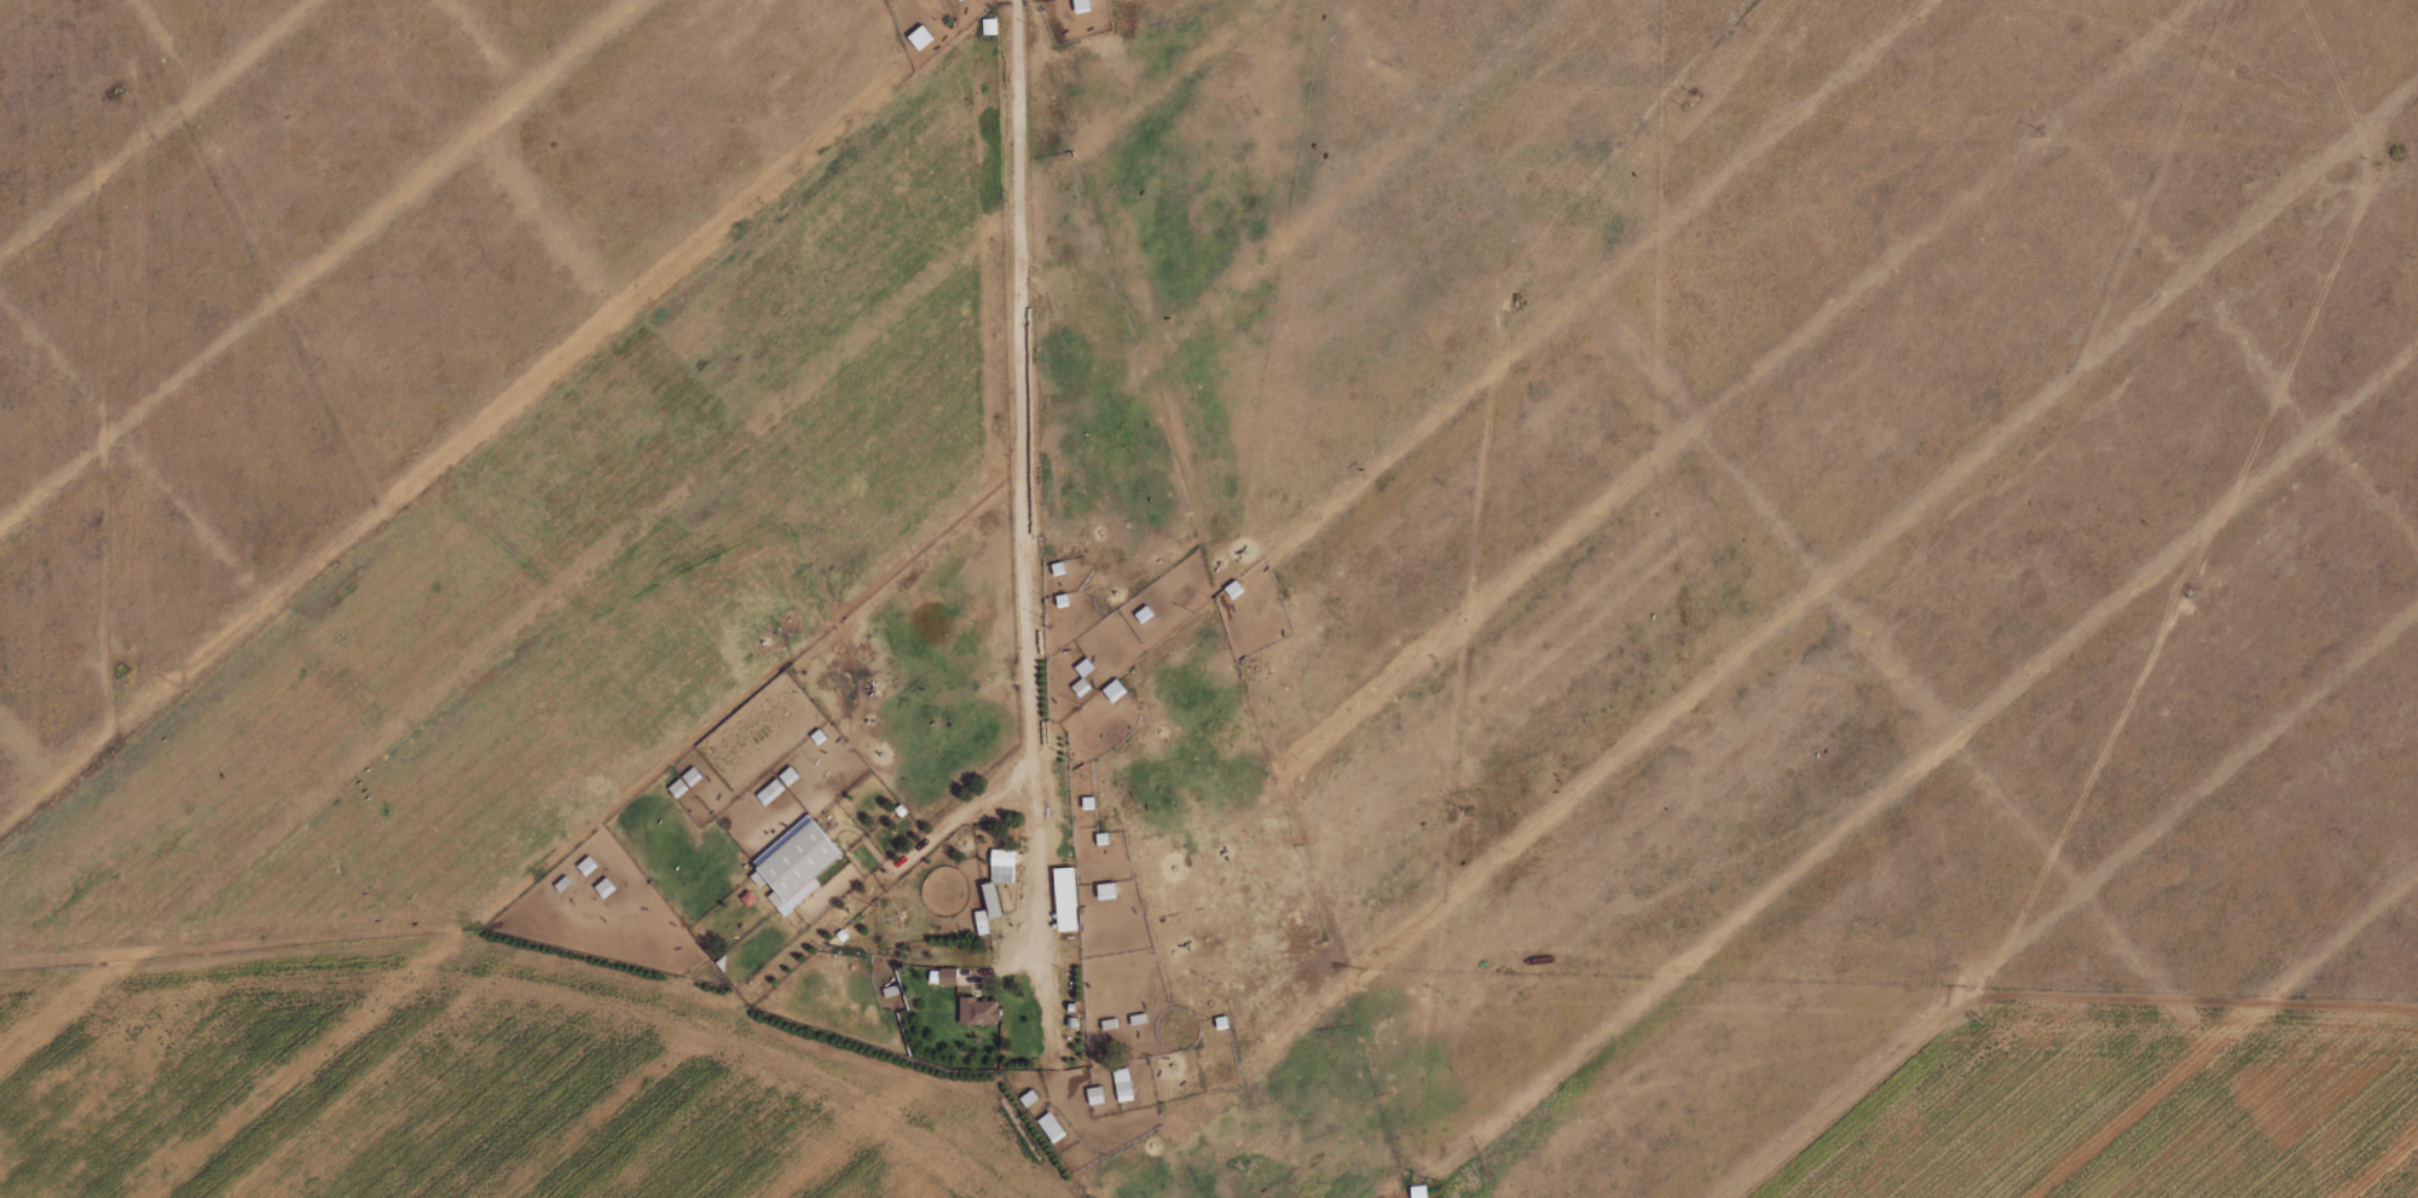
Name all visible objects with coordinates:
building: (961, 0)
building: (1082, 5)
building: (989, 25)
building: (920, 36)
road: (1032, 515)
building: (1234, 590)
building: (1084, 667)
building: (1081, 687)
building: (1115, 690)
building: (756, 720)
building: (788, 776)
building: (684, 782)
building: (770, 792)
building: (586, 866)
building: (796, 866)
building: (1001, 866)
road: (893, 875)
building: (604, 887)
building: (1106, 891)
building: (1065, 898)
building: (993, 901)
building: (980, 922)
building: (948, 977)
building: (890, 991)
building: (978, 1011)
building: (1138, 1019)
building: (1109, 1024)
building: (1122, 1084)
building: (1095, 1095)
building: (1029, 1098)
building: (1051, 1127)
building: (1418, 1191)

